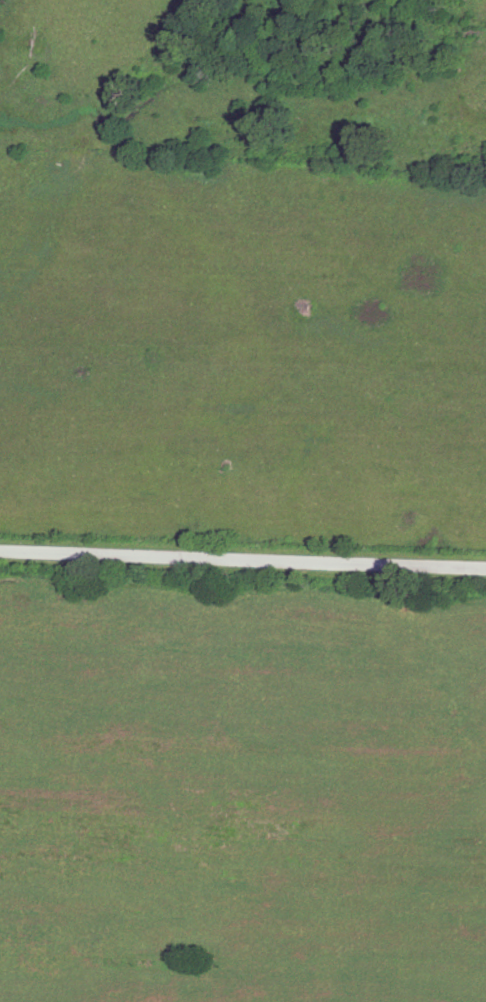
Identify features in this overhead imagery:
road: (243, 560)

